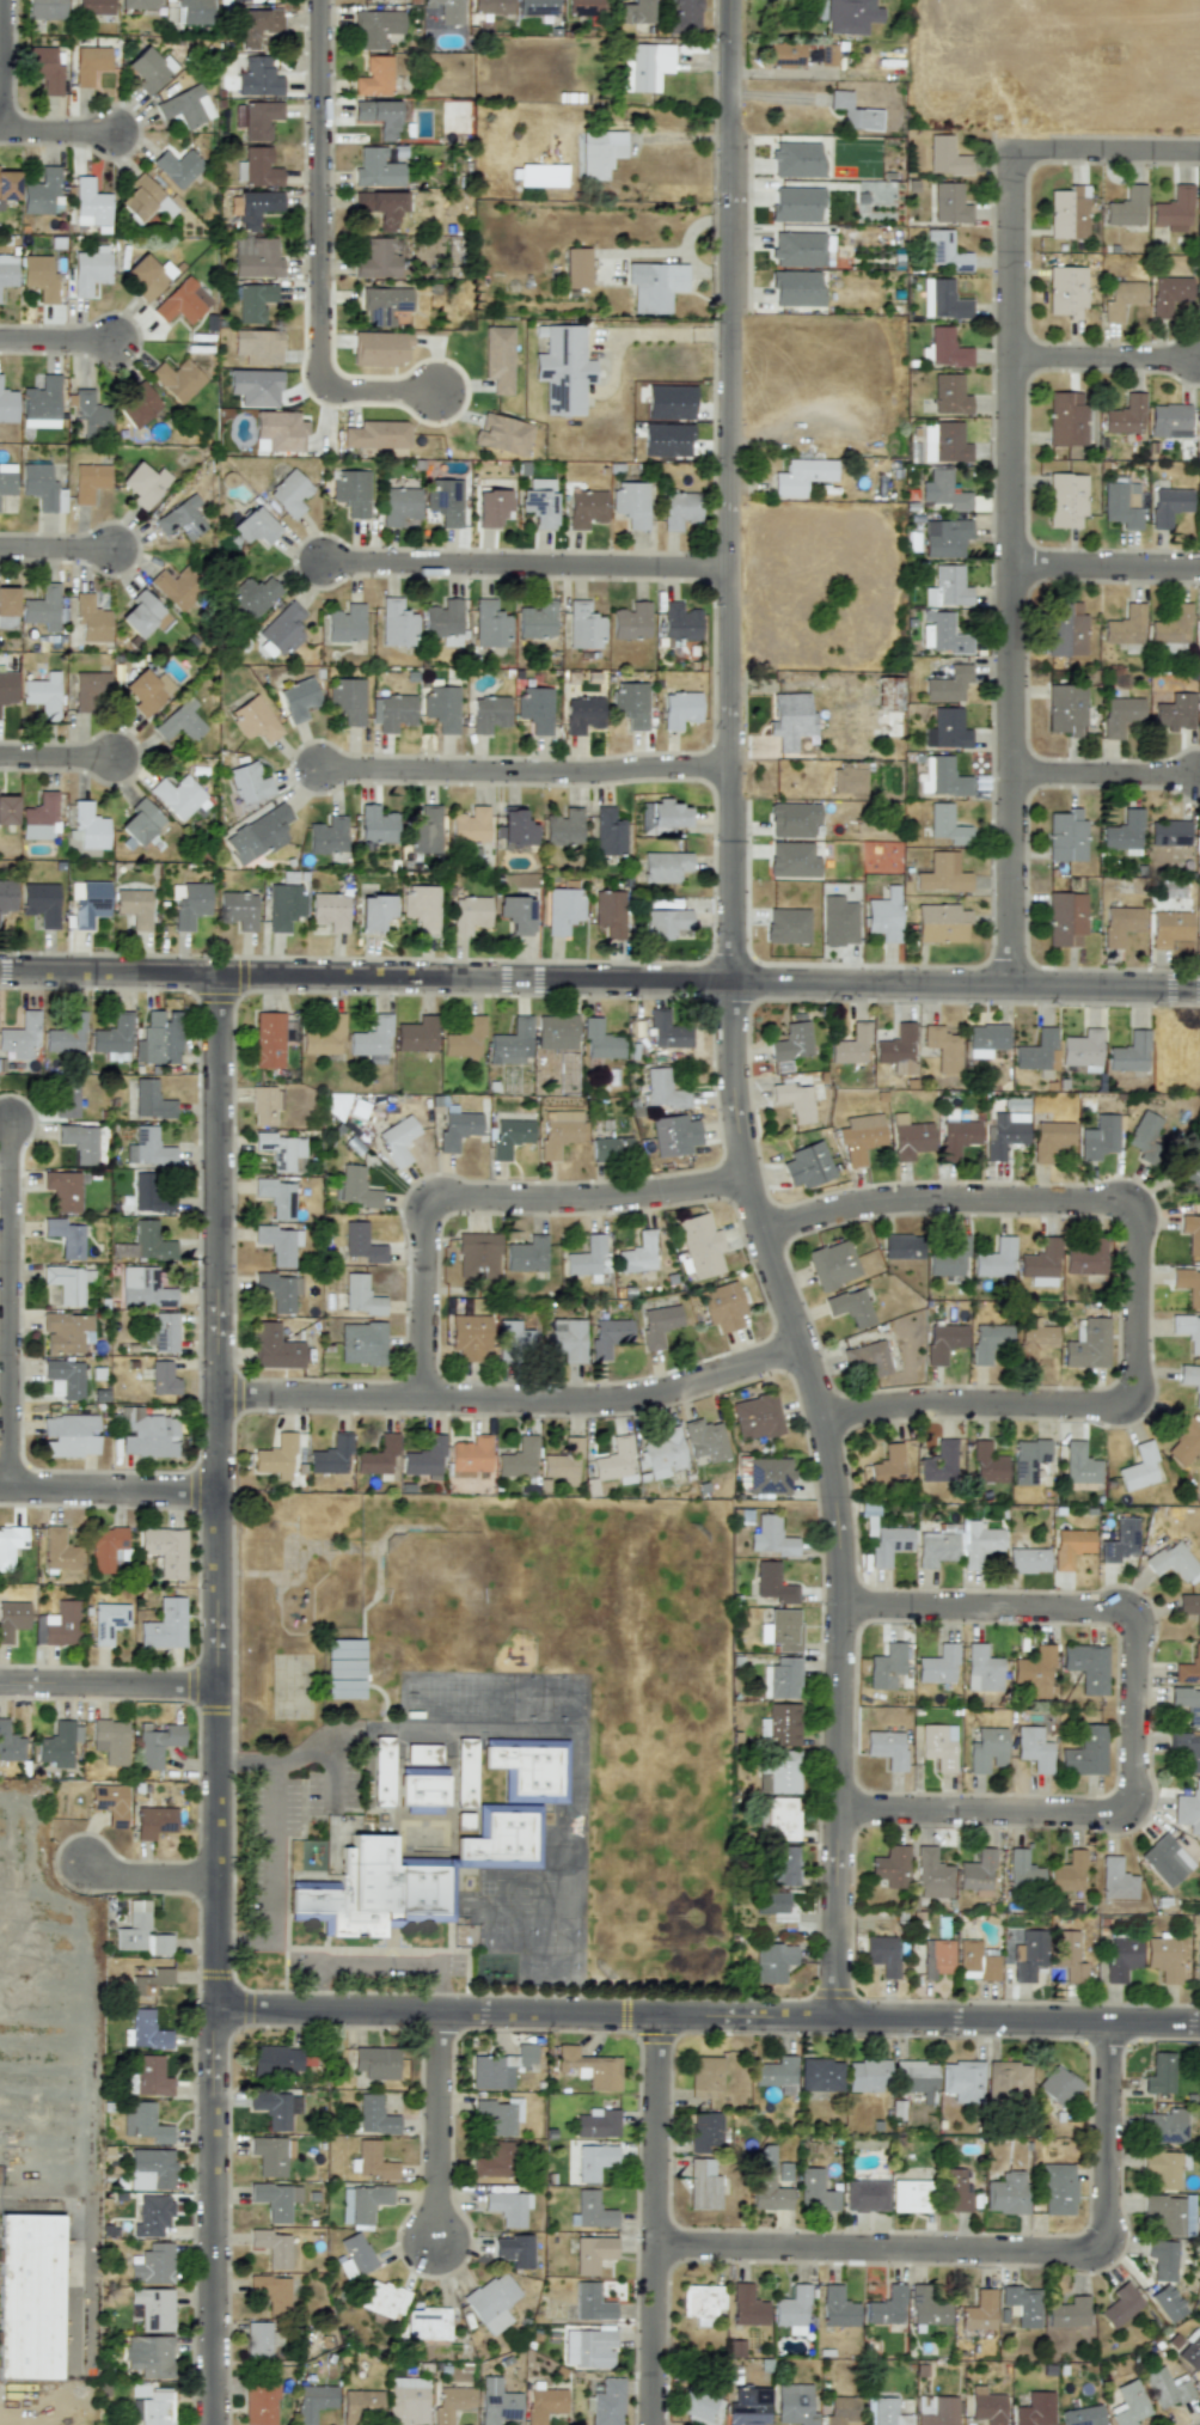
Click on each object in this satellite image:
building: (241, 0)
building: (137, 4)
building: (491, 6)
building: (94, 7)
building: (535, 7)
building: (582, 7)
building: (44, 8)
building: (446, 10)
building: (191, 11)
building: (632, 12)
building: (850, 16)
building: (684, 17)
building: (257, 25)
building: (375, 28)
building: (785, 54)
building: (821, 54)
building: (88, 63)
road: (1, 66)
building: (644, 66)
building: (45, 68)
building: (148, 69)
road: (780, 73)
building: (257, 77)
building: (374, 77)
building: (184, 108)
building: (853, 112)
building: (379, 116)
building: (259, 118)
road: (56, 133)
road: (1106, 147)
building: (599, 152)
building: (947, 157)
building: (796, 160)
building: (177, 166)
building: (257, 167)
building: (376, 169)
building: (541, 175)
building: (7, 185)
building: (41, 191)
building: (140, 200)
building: (88, 203)
building: (795, 203)
building: (950, 203)
building: (381, 206)
building: (256, 207)
building: (1127, 207)
building: (1175, 209)
building: (1067, 212)
building: (1199, 212)
building: (796, 249)
building: (945, 251)
road: (319, 252)
building: (255, 257)
building: (378, 259)
building: (576, 267)
building: (88, 269)
building: (7, 270)
building: (37, 275)
building: (146, 276)
building: (655, 285)
building: (796, 288)
building: (1066, 292)
building: (862, 293)
building: (1168, 293)
building: (942, 299)
building: (1122, 299)
building: (182, 301)
building: (252, 301)
building: (386, 305)
road: (642, 334)
road: (56, 342)
building: (257, 346)
building: (944, 347)
building: (380, 348)
building: (497, 358)
road: (1104, 358)
building: (563, 368)
building: (177, 379)
building: (255, 386)
building: (949, 395)
building: (669, 402)
building: (41, 403)
building: (137, 404)
building: (7, 405)
building: (90, 413)
building: (1126, 415)
building: (1066, 419)
building: (1169, 420)
building: (1199, 428)
building: (278, 430)
building: (375, 434)
building: (502, 434)
building: (666, 439)
building: (947, 444)
building: (801, 476)
building: (6, 478)
building: (88, 481)
building: (143, 483)
building: (41, 488)
building: (944, 490)
building: (350, 491)
building: (288, 493)
building: (443, 500)
building: (1066, 500)
building: (538, 502)
building: (631, 502)
building: (1121, 503)
building: (398, 505)
building: (1169, 506)
building: (490, 507)
building: (586, 508)
building: (679, 509)
building: (180, 518)
building: (1199, 521)
building: (253, 526)
building: (945, 538)
road: (56, 549)
road: (526, 566)
road: (1011, 567)
road: (1106, 567)
building: (178, 586)
building: (947, 587)
building: (250, 597)
building: (6, 605)
building: (41, 607)
building: (142, 616)
building: (90, 618)
building: (535, 619)
building: (443, 622)
building: (630, 622)
building: (344, 623)
building: (396, 623)
building: (489, 623)
building: (679, 623)
building: (583, 625)
building: (1125, 625)
building: (1171, 625)
building: (1065, 629)
building: (280, 630)
building: (941, 633)
building: (1199, 633)
building: (948, 684)
building: (7, 688)
building: (90, 690)
building: (146, 691)
building: (42, 695)
building: (298, 698)
building: (347, 700)
building: (886, 702)
building: (630, 703)
building: (441, 707)
building: (534, 708)
building: (1066, 708)
building: (679, 709)
building: (392, 711)
building: (1175, 711)
building: (488, 713)
building: (582, 714)
building: (1120, 715)
building: (789, 719)
building: (253, 720)
building: (179, 721)
building: (947, 728)
road: (56, 757)
road: (525, 772)
road: (1104, 774)
building: (849, 776)
building: (942, 777)
building: (246, 784)
building: (177, 796)
building: (7, 810)
building: (39, 817)
building: (662, 817)
building: (792, 819)
building: (140, 821)
building: (375, 825)
building: (469, 825)
building: (947, 825)
building: (88, 827)
building: (562, 827)
building: (515, 829)
building: (423, 830)
building: (608, 832)
building: (1125, 832)
building: (1169, 832)
building: (257, 833)
building: (326, 835)
building: (1066, 836)
building: (1199, 842)
building: (791, 860)
building: (663, 866)
building: (942, 873)
building: (39, 902)
building: (87, 902)
building: (190, 904)
building: (283, 905)
building: (134, 906)
building: (421, 906)
building: (237, 909)
building: (562, 909)
building: (329, 910)
building: (374, 911)
building: (608, 912)
building: (469, 914)
building: (515, 914)
building: (884, 915)
building: (1065, 918)
building: (838, 921)
building: (663, 923)
building: (941, 923)
building: (1121, 924)
building: (786, 926)
building: (1170, 928)
road: (600, 981)
road: (729, 1016)
building: (556, 1031)
building: (668, 1031)
building: (67, 1034)
building: (416, 1034)
building: (22, 1037)
building: (114, 1037)
building: (324, 1037)
building: (159, 1038)
building: (268, 1039)
building: (465, 1039)
building: (985, 1039)
building: (372, 1040)
building: (600, 1040)
building: (512, 1042)
building: (792, 1042)
building: (851, 1045)
building: (943, 1047)
building: (898, 1049)
building: (1036, 1050)
building: (1083, 1050)
building: (1129, 1052)
building: (661, 1089)
building: (67, 1099)
building: (151, 1100)
building: (795, 1100)
building: (264, 1105)
building: (457, 1126)
building: (561, 1131)
building: (1004, 1134)
building: (1144, 1134)
building: (673, 1135)
building: (508, 1136)
building: (861, 1136)
building: (910, 1137)
building: (957, 1137)
building: (1100, 1137)
building: (1051, 1138)
building: (398, 1140)
building: (80, 1141)
building: (148, 1148)
building: (611, 1148)
building: (282, 1150)
building: (807, 1165)
building: (1186, 1168)
building: (355, 1186)
building: (63, 1190)
building: (151, 1192)
building: (277, 1197)
road: (490, 1199)
building: (1192, 1233)
building: (66, 1236)
building: (145, 1242)
building: (277, 1242)
building: (362, 1244)
building: (700, 1245)
building: (902, 1246)
building: (638, 1253)
building: (526, 1254)
building: (477, 1256)
building: (1084, 1256)
building: (587, 1257)
building: (949, 1258)
building: (994, 1260)
building: (832, 1264)
building: (1040, 1264)
road: (1139, 1269)
building: (68, 1283)
building: (1188, 1285)
building: (143, 1288)
building: (278, 1290)
building: (360, 1295)
building: (722, 1306)
road: (10, 1307)
building: (851, 1307)
building: (657, 1324)
building: (1188, 1330)
building: (67, 1332)
building: (163, 1332)
building: (470, 1336)
building: (514, 1336)
building: (608, 1336)
building: (568, 1339)
building: (1034, 1340)
building: (943, 1342)
building: (988, 1342)
building: (361, 1343)
building: (1086, 1344)
building: (275, 1348)
building: (867, 1358)
building: (66, 1376)
building: (163, 1379)
building: (1190, 1380)
road: (514, 1399)
building: (757, 1416)
road: (888, 1421)
building: (146, 1433)
building: (69, 1435)
building: (1183, 1438)
building: (705, 1440)
building: (331, 1455)
building: (378, 1455)
building: (470, 1456)
building: (276, 1458)
building: (424, 1459)
building: (518, 1459)
building: (1028, 1460)
building: (563, 1461)
building: (616, 1461)
building: (939, 1462)
building: (987, 1464)
building: (1079, 1464)
building: (888, 1465)
building: (1140, 1467)
building: (769, 1476)
road: (109, 1490)
building: (883, 1535)
building: (771, 1537)
building: (980, 1538)
building: (1120, 1540)
building: (10, 1544)
building: (1070, 1546)
building: (106, 1547)
building: (936, 1549)
building: (60, 1550)
building: (165, 1550)
building: (1028, 1559)
building: (1174, 1562)
building: (772, 1583)
building: (1189, 1608)
building: (12, 1619)
building: (108, 1621)
building: (57, 1625)
building: (165, 1625)
building: (782, 1630)
building: (938, 1664)
building: (886, 1666)
building: (1086, 1666)
building: (1189, 1667)
building: (344, 1668)
building: (982, 1669)
building: (1035, 1672)
building: (782, 1679)
road: (109, 1684)
road: (219, 1700)
building: (1187, 1704)
road: (1137, 1711)
building: (782, 1724)
building: (110, 1740)
building: (10, 1743)
building: (59, 1743)
building: (155, 1743)
building: (938, 1745)
building: (887, 1747)
building: (1034, 1748)
building: (1187, 1748)
building: (986, 1749)
building: (1085, 1752)
building: (425, 1755)
building: (529, 1770)
building: (778, 1772)
building: (386, 1773)
building: (467, 1773)
building: (428, 1792)
building: (110, 1803)
building: (1188, 1809)
road: (273, 1816)
building: (778, 1818)
building: (153, 1821)
building: (504, 1839)
building: (1165, 1859)
building: (890, 1865)
building: (784, 1867)
building: (1022, 1869)
building: (978, 1873)
building: (1067, 1873)
building: (932, 1874)
road: (151, 1877)
building: (1116, 1879)
building: (378, 1892)
building: (773, 1904)
building: (140, 1931)
building: (882, 1954)
building: (1028, 1954)
building: (1069, 1955)
building: (1121, 1956)
building: (937, 1957)
building: (1163, 1957)
building: (772, 1961)
building: (975, 1961)
road: (380, 1965)
building: (1198, 1969)
building: (146, 1986)
road: (709, 2017)
building: (145, 2034)
building: (275, 2059)
building: (375, 2061)
building: (498, 2067)
building: (589, 2067)
building: (777, 2073)
building: (1159, 2073)
building: (821, 2075)
building: (867, 2075)
building: (148, 2076)
building: (704, 2076)
building: (917, 2078)
building: (1008, 2078)
building: (962, 2081)
building: (1057, 2084)
building: (276, 2108)
building: (500, 2114)
building: (374, 2115)
building: (598, 2122)
building: (145, 2124)
building: (1163, 2126)
road: (439, 2127)
building: (705, 2132)
building: (269, 2155)
building: (373, 2161)
building: (494, 2161)
building: (594, 2161)
building: (151, 2169)
building: (1161, 2170)
building: (784, 2171)
building: (766, 2181)
building: (703, 2183)
building: (1058, 2188)
building: (815, 2189)
building: (955, 2191)
building: (865, 2192)
building: (1006, 2193)
building: (911, 2195)
building: (275, 2199)
building: (362, 2203)
building: (508, 2207)
building: (590, 2211)
building: (1171, 2213)
building: (152, 2215)
road: (656, 2221)
building: (271, 2247)
road: (994, 2248)
building: (514, 2250)
building: (593, 2254)
building: (355, 2255)
building: (1162, 2259)
building: (153, 2265)
building: (273, 2292)
building: (32, 2296)
building: (385, 2298)
building: (492, 2302)
building: (592, 2302)
building: (702, 2302)
building: (1167, 2303)
building: (1022, 2304)
building: (747, 2305)
building: (1120, 2305)
building: (887, 2307)
building: (838, 2308)
building: (926, 2308)
building: (152, 2309)
building: (792, 2310)
building: (979, 2311)
building: (1069, 2313)
building: (428, 2322)
building: (258, 2340)
building: (588, 2348)
building: (1190, 2350)
building: (149, 2356)
building: (1165, 2388)
building: (313, 2401)
building: (408, 2401)
building: (497, 2401)
building: (259, 2402)
building: (452, 2402)
building: (606, 2402)
building: (544, 2403)
building: (795, 2403)
building: (362, 2405)
building: (1131, 2405)
building: (699, 2406)
building: (748, 2406)
building: (986, 2406)
building: (154, 2408)
building: (841, 2409)
building: (936, 2409)
building: (1035, 2409)
building: (884, 2412)
building: (1082, 2415)

